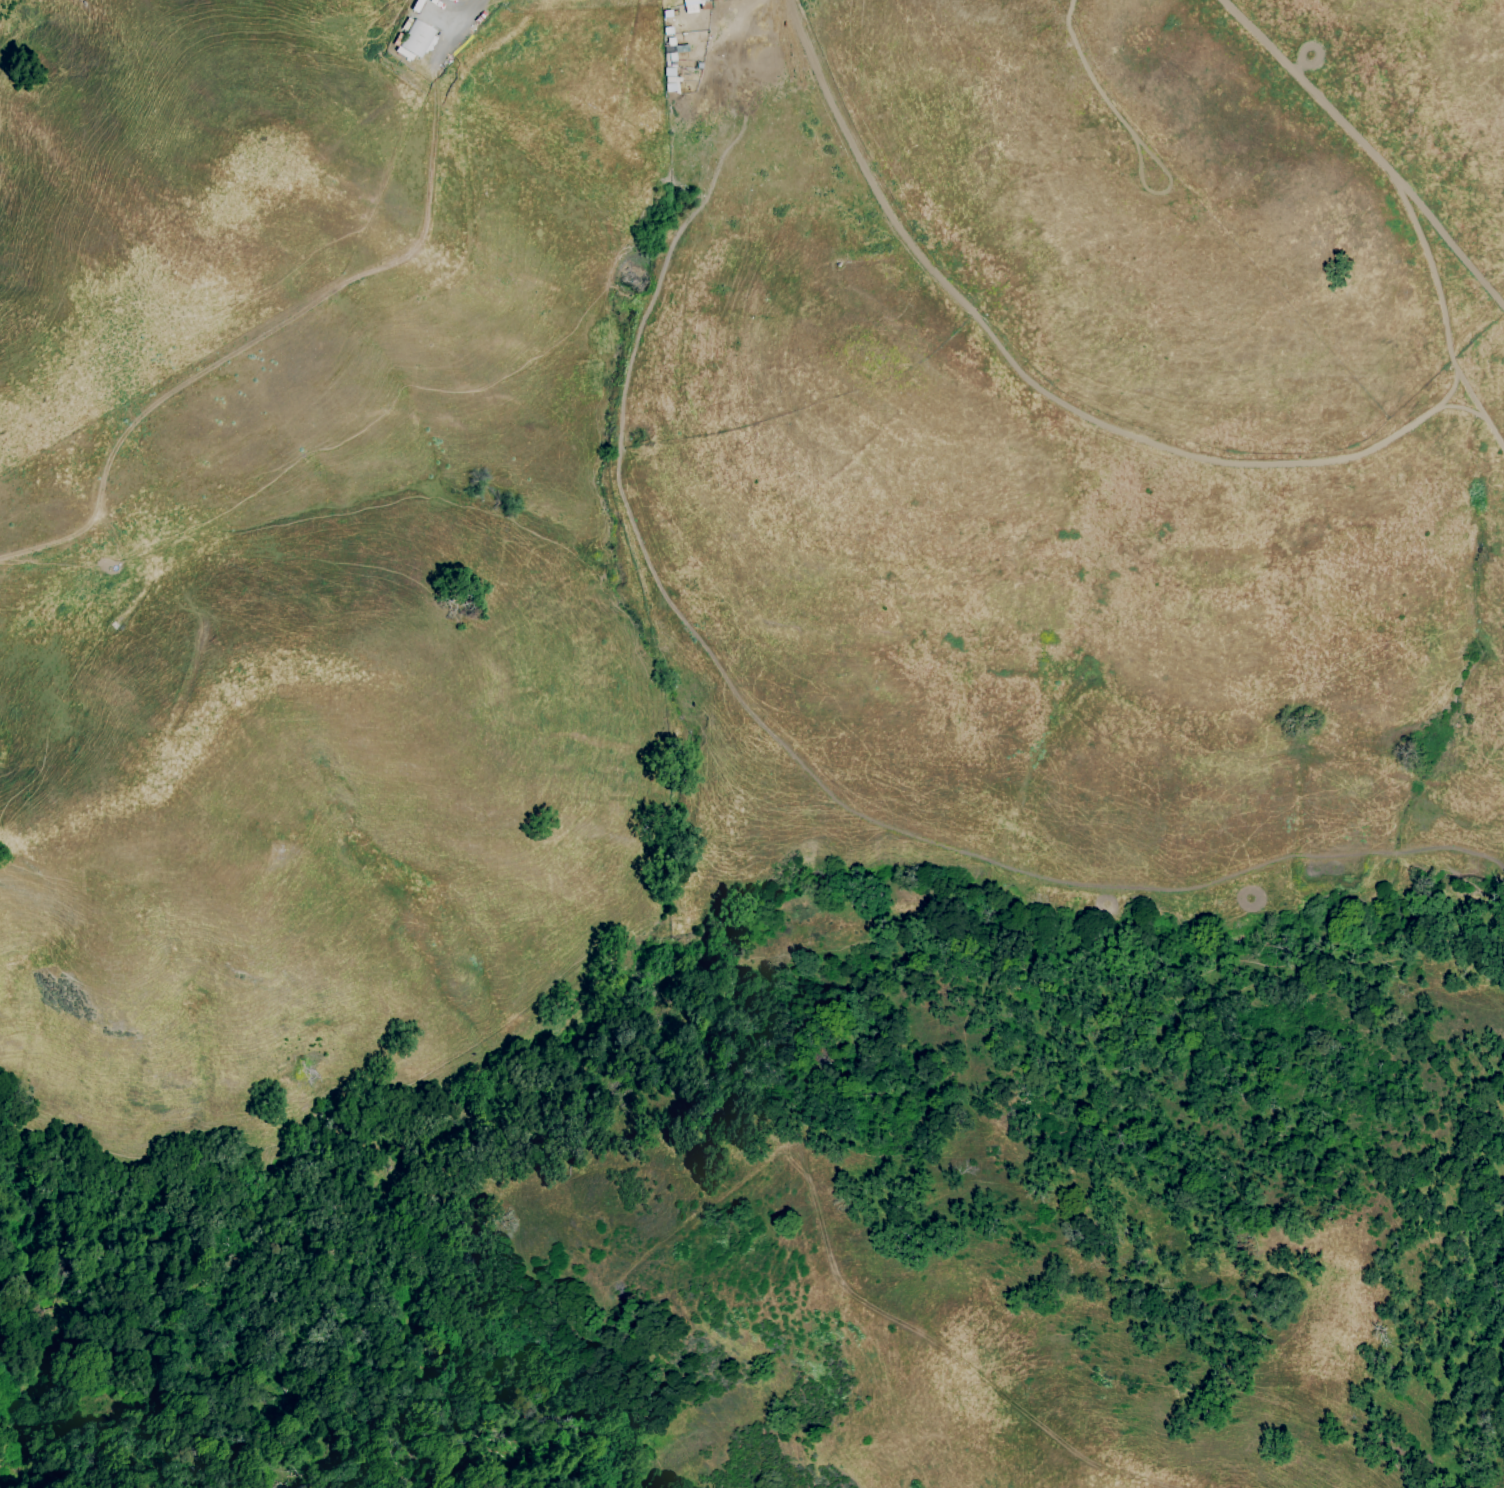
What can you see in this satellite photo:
building: (714, 0)
building: (690, 5)
road: (444, 16)
road: (456, 28)
building: (417, 38)
road: (1337, 118)
road: (1449, 245)
road: (264, 334)
road: (1445, 341)
road: (1450, 389)
road: (1063, 396)
road: (621, 407)
road: (1155, 888)
road: (943, 1351)

